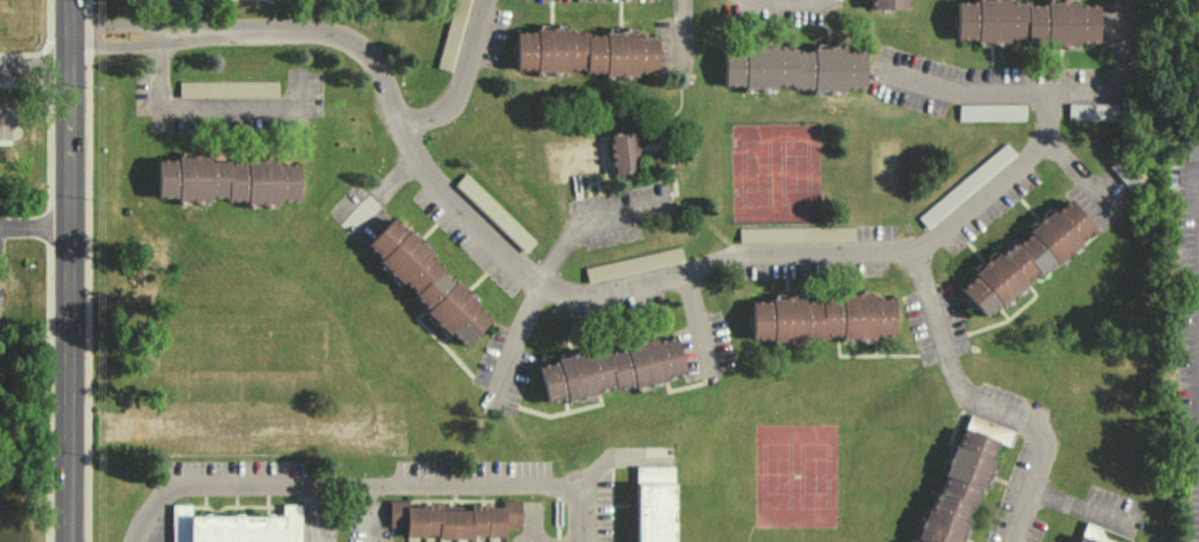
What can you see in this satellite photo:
building: (886, 4)
building: (1026, 21)
road: (679, 30)
building: (583, 51)
road: (35, 67)
building: (794, 67)
road: (464, 76)
road: (1114, 85)
building: (227, 88)
road: (208, 107)
road: (1, 115)
building: (1192, 149)
building: (623, 152)
road: (1076, 177)
building: (226, 179)
road: (385, 187)
road: (585, 223)
road: (35, 228)
building: (1023, 257)
road: (85, 270)
road: (69, 271)
building: (427, 281)
road: (619, 283)
road: (695, 315)
building: (820, 316)
road: (513, 339)
building: (608, 368)
road: (983, 409)
road: (232, 431)
building: (960, 476)
road: (379, 488)
building: (652, 504)
road: (1078, 506)
road: (307, 515)
road: (368, 515)
building: (453, 519)
road: (528, 522)
building: (234, 525)
road: (139, 526)
building: (1095, 535)

